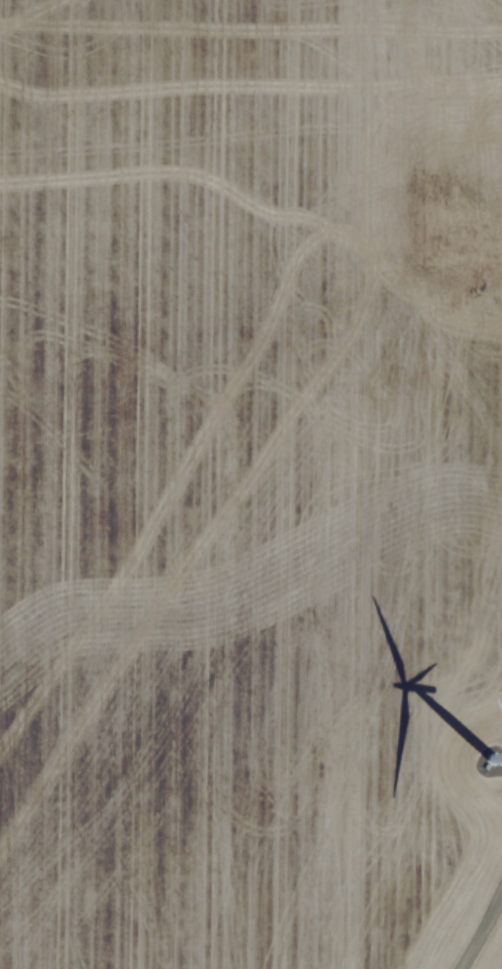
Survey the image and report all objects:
wind turbine: (488, 764)

